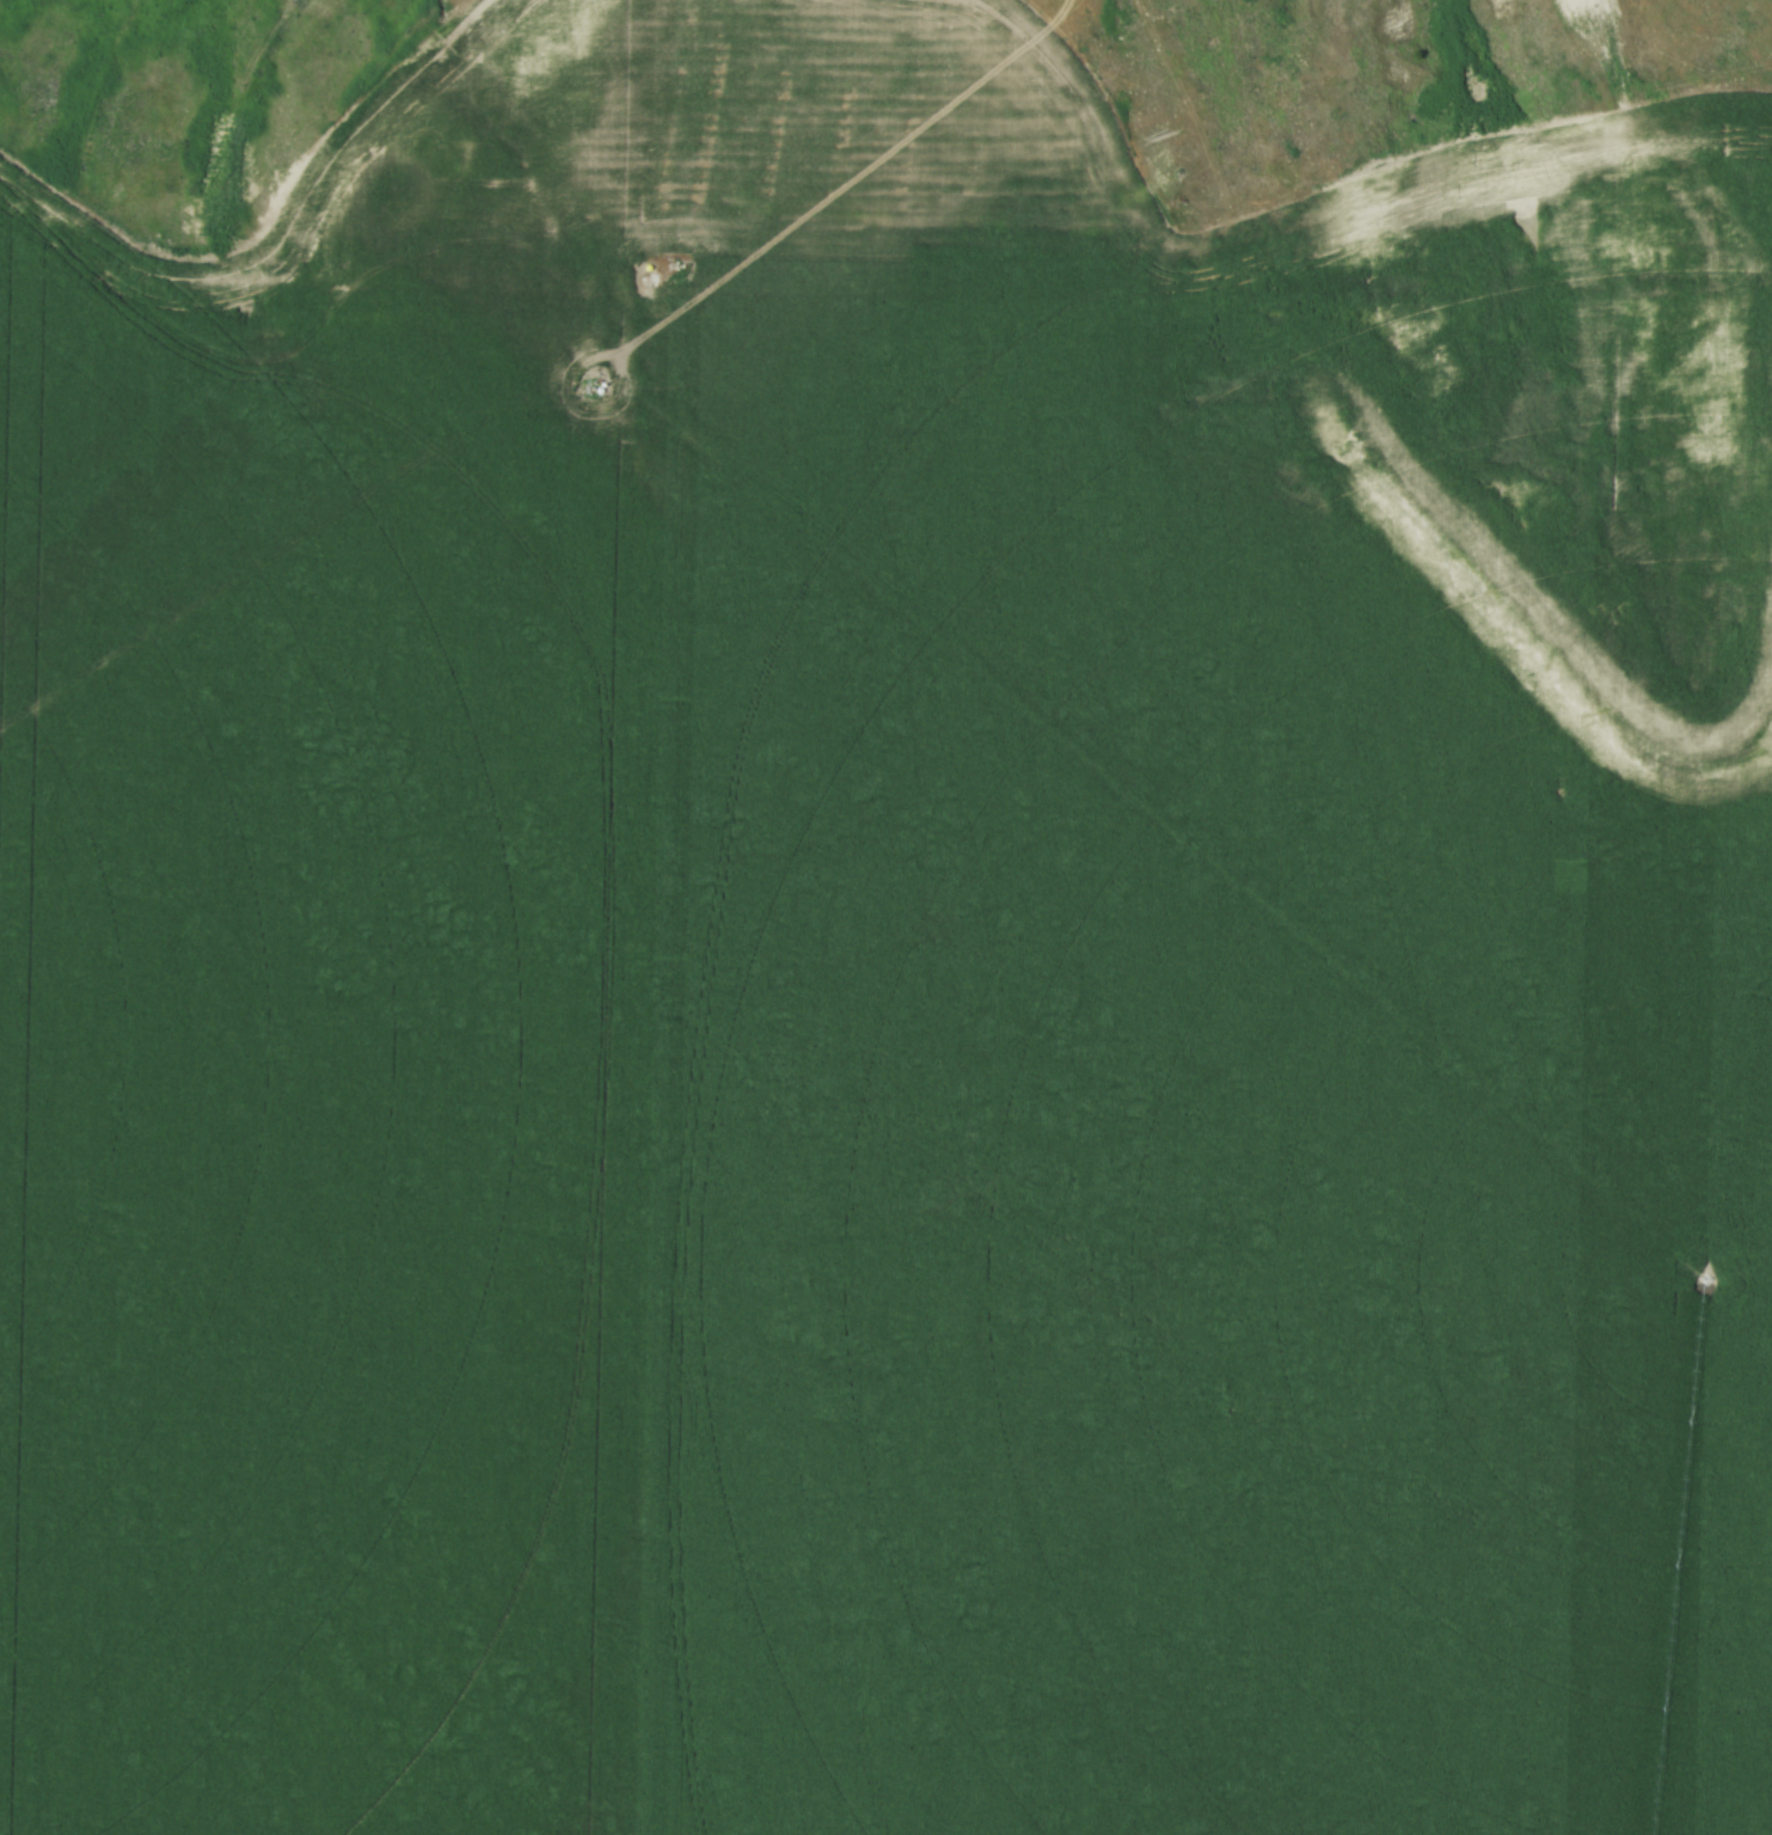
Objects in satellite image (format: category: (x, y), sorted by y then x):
road: (1768, 317)
building: (1273, 391)
road: (1564, 570)

